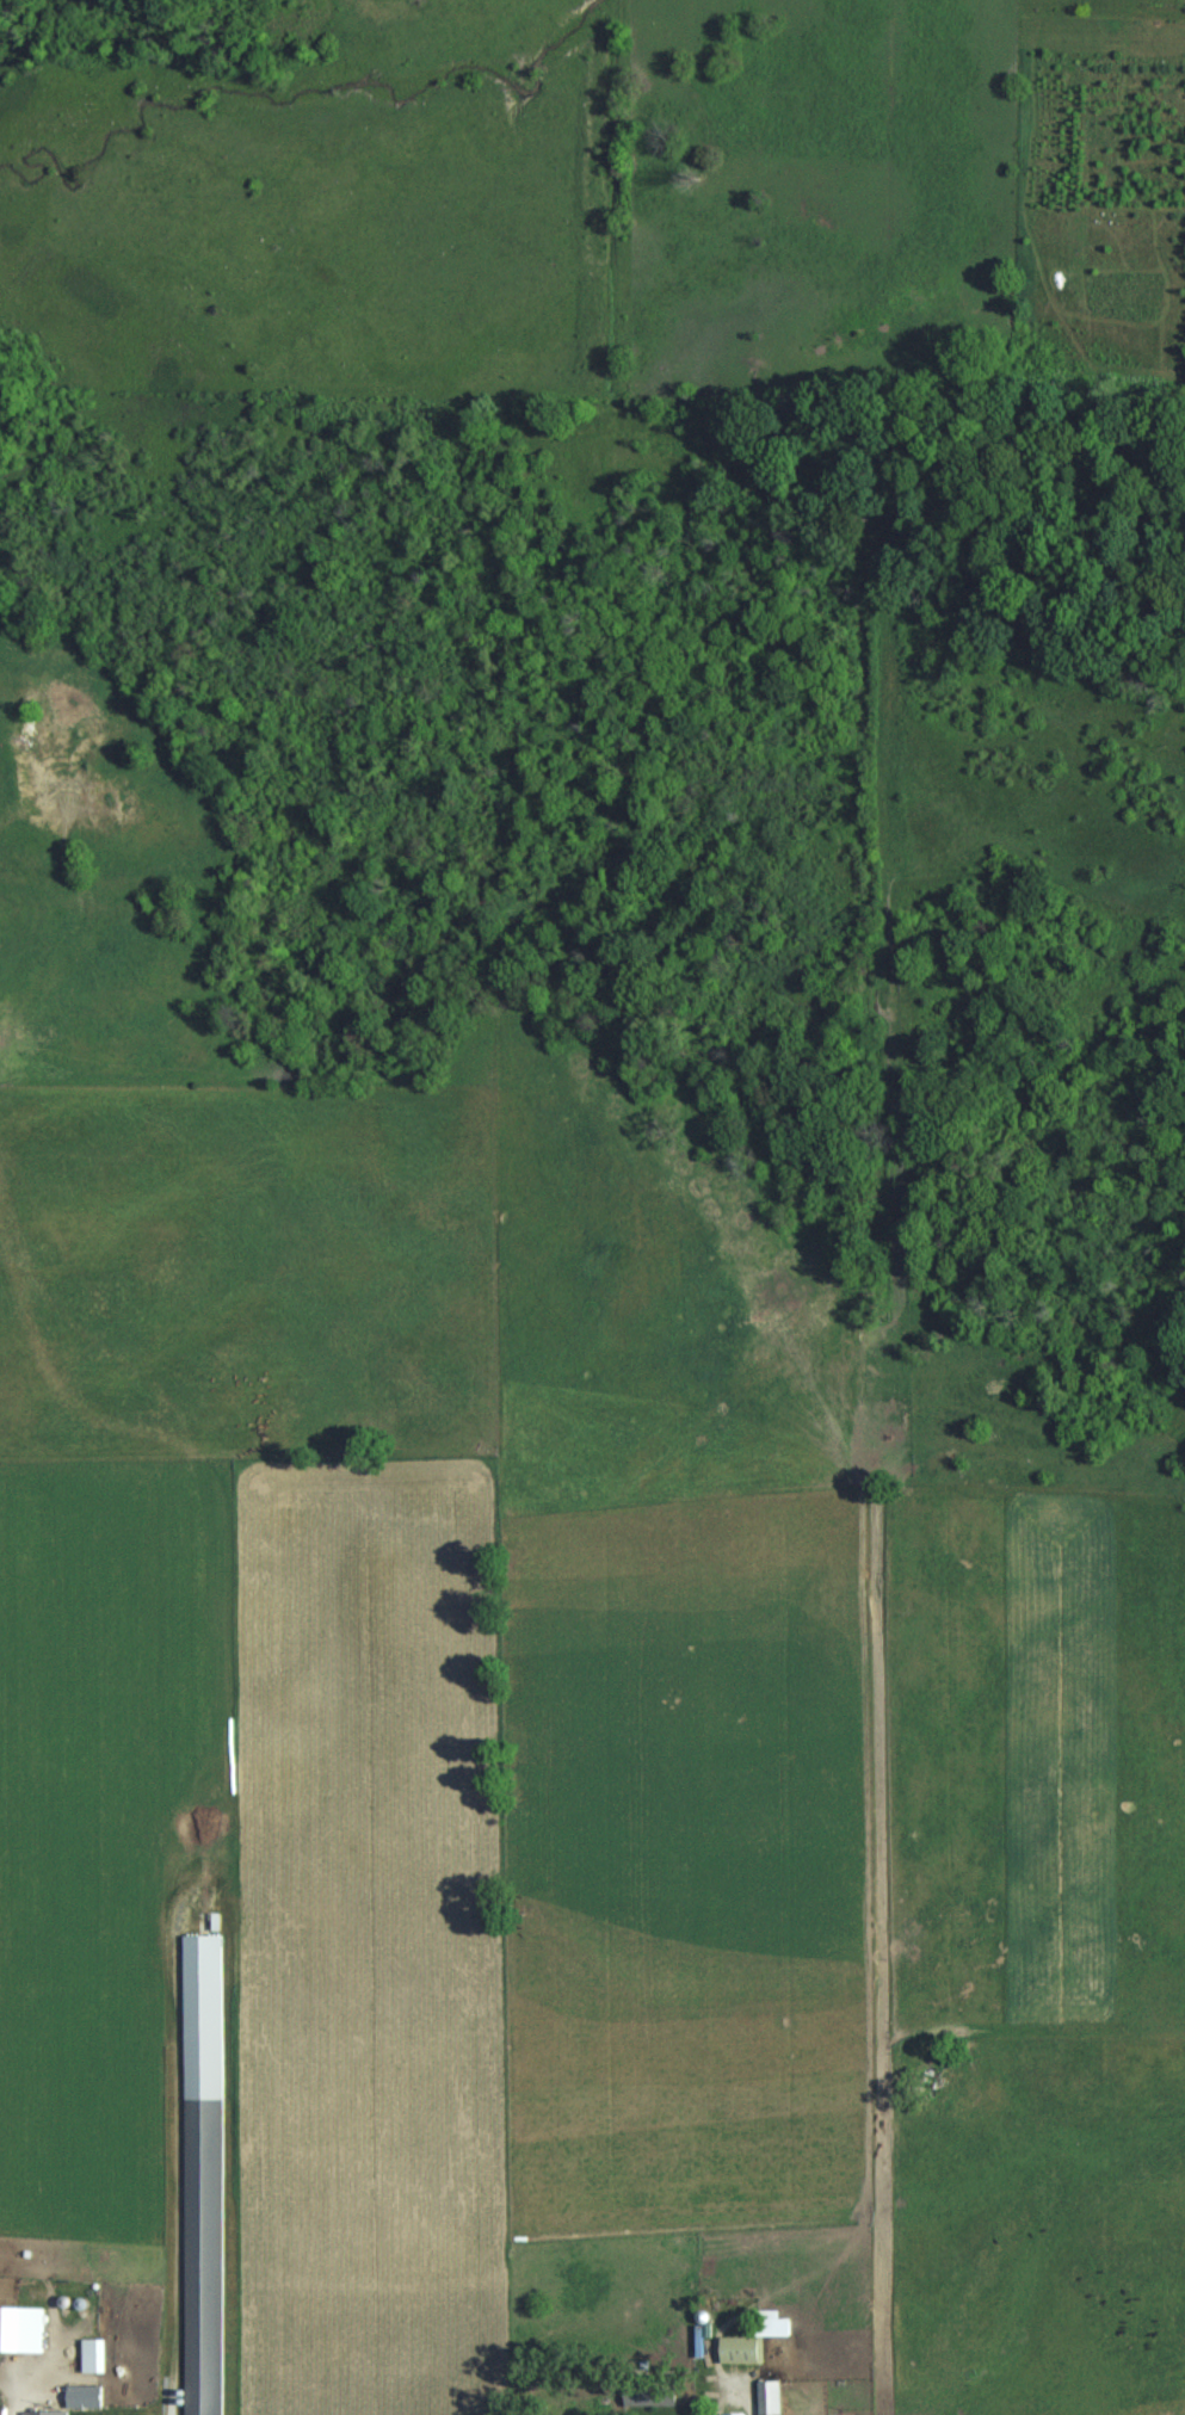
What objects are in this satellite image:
building: (204, 2255)
building: (21, 2328)
building: (755, 2337)
building: (650, 2394)
building: (85, 2396)
building: (770, 2397)
building: (35, 2407)
building: (2, 2411)
building: (734, 2414)

